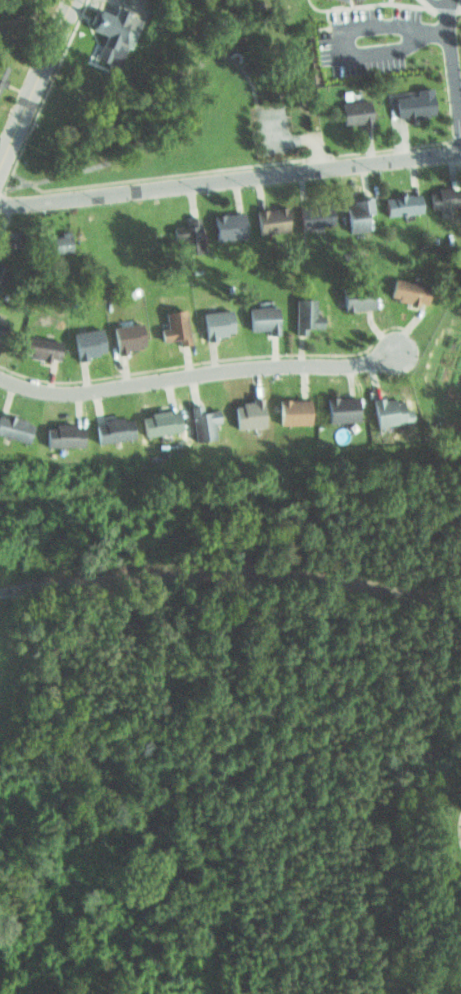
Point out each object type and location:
building: (345, 0)
road: (433, 6)
building: (112, 33)
road: (342, 55)
road: (449, 69)
building: (4, 76)
road: (36, 85)
building: (411, 102)
building: (350, 112)
road: (230, 180)
building: (443, 197)
building: (398, 202)
building: (354, 212)
building: (313, 216)
building: (269, 220)
building: (224, 223)
building: (187, 233)
building: (9, 241)
building: (55, 242)
building: (2, 272)
building: (404, 288)
building: (352, 296)
building: (302, 313)
building: (259, 319)
building: (212, 323)
building: (172, 324)
building: (1, 326)
building: (123, 336)
building: (85, 343)
building: (35, 345)
road: (197, 373)
building: (336, 406)
building: (246, 410)
building: (286, 410)
building: (385, 411)
building: (154, 419)
building: (197, 422)
building: (13, 427)
building: (106, 428)
building: (60, 434)
railway: (231, 571)

